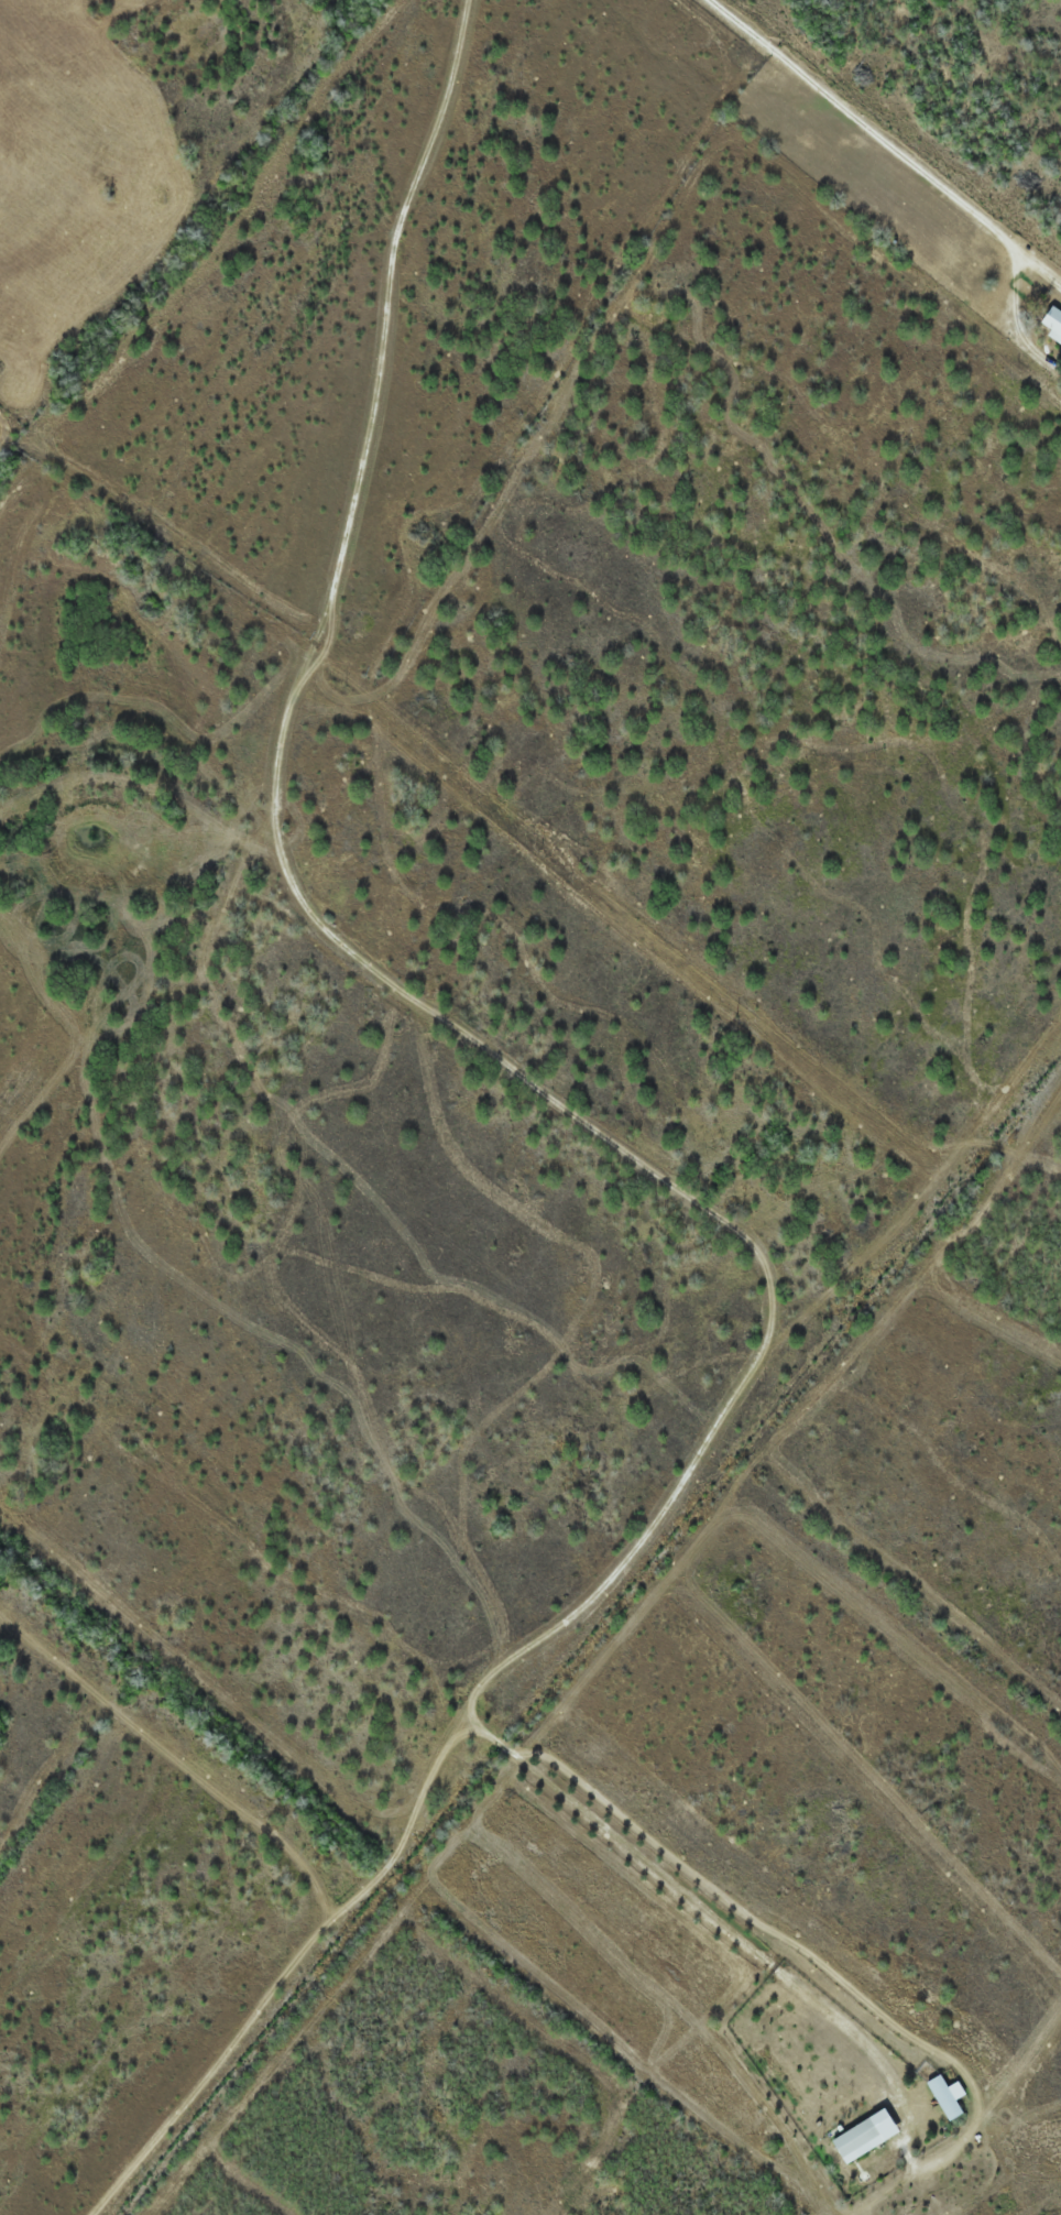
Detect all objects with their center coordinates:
building: (1054, 325)
building: (944, 2096)
building: (856, 2137)

